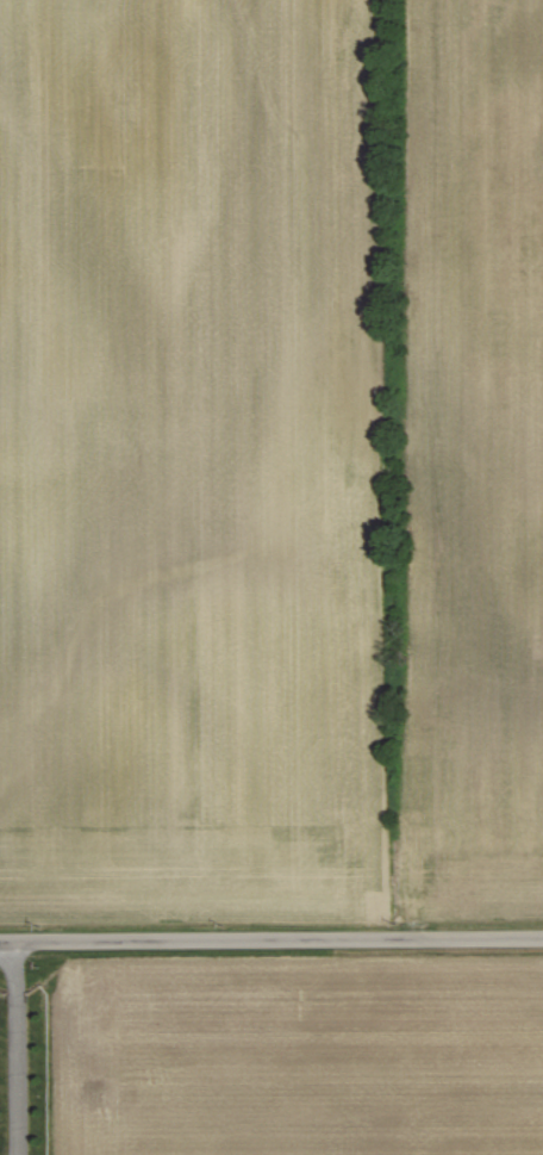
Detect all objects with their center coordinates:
road: (279, 938)
road: (7, 940)
road: (14, 1048)

